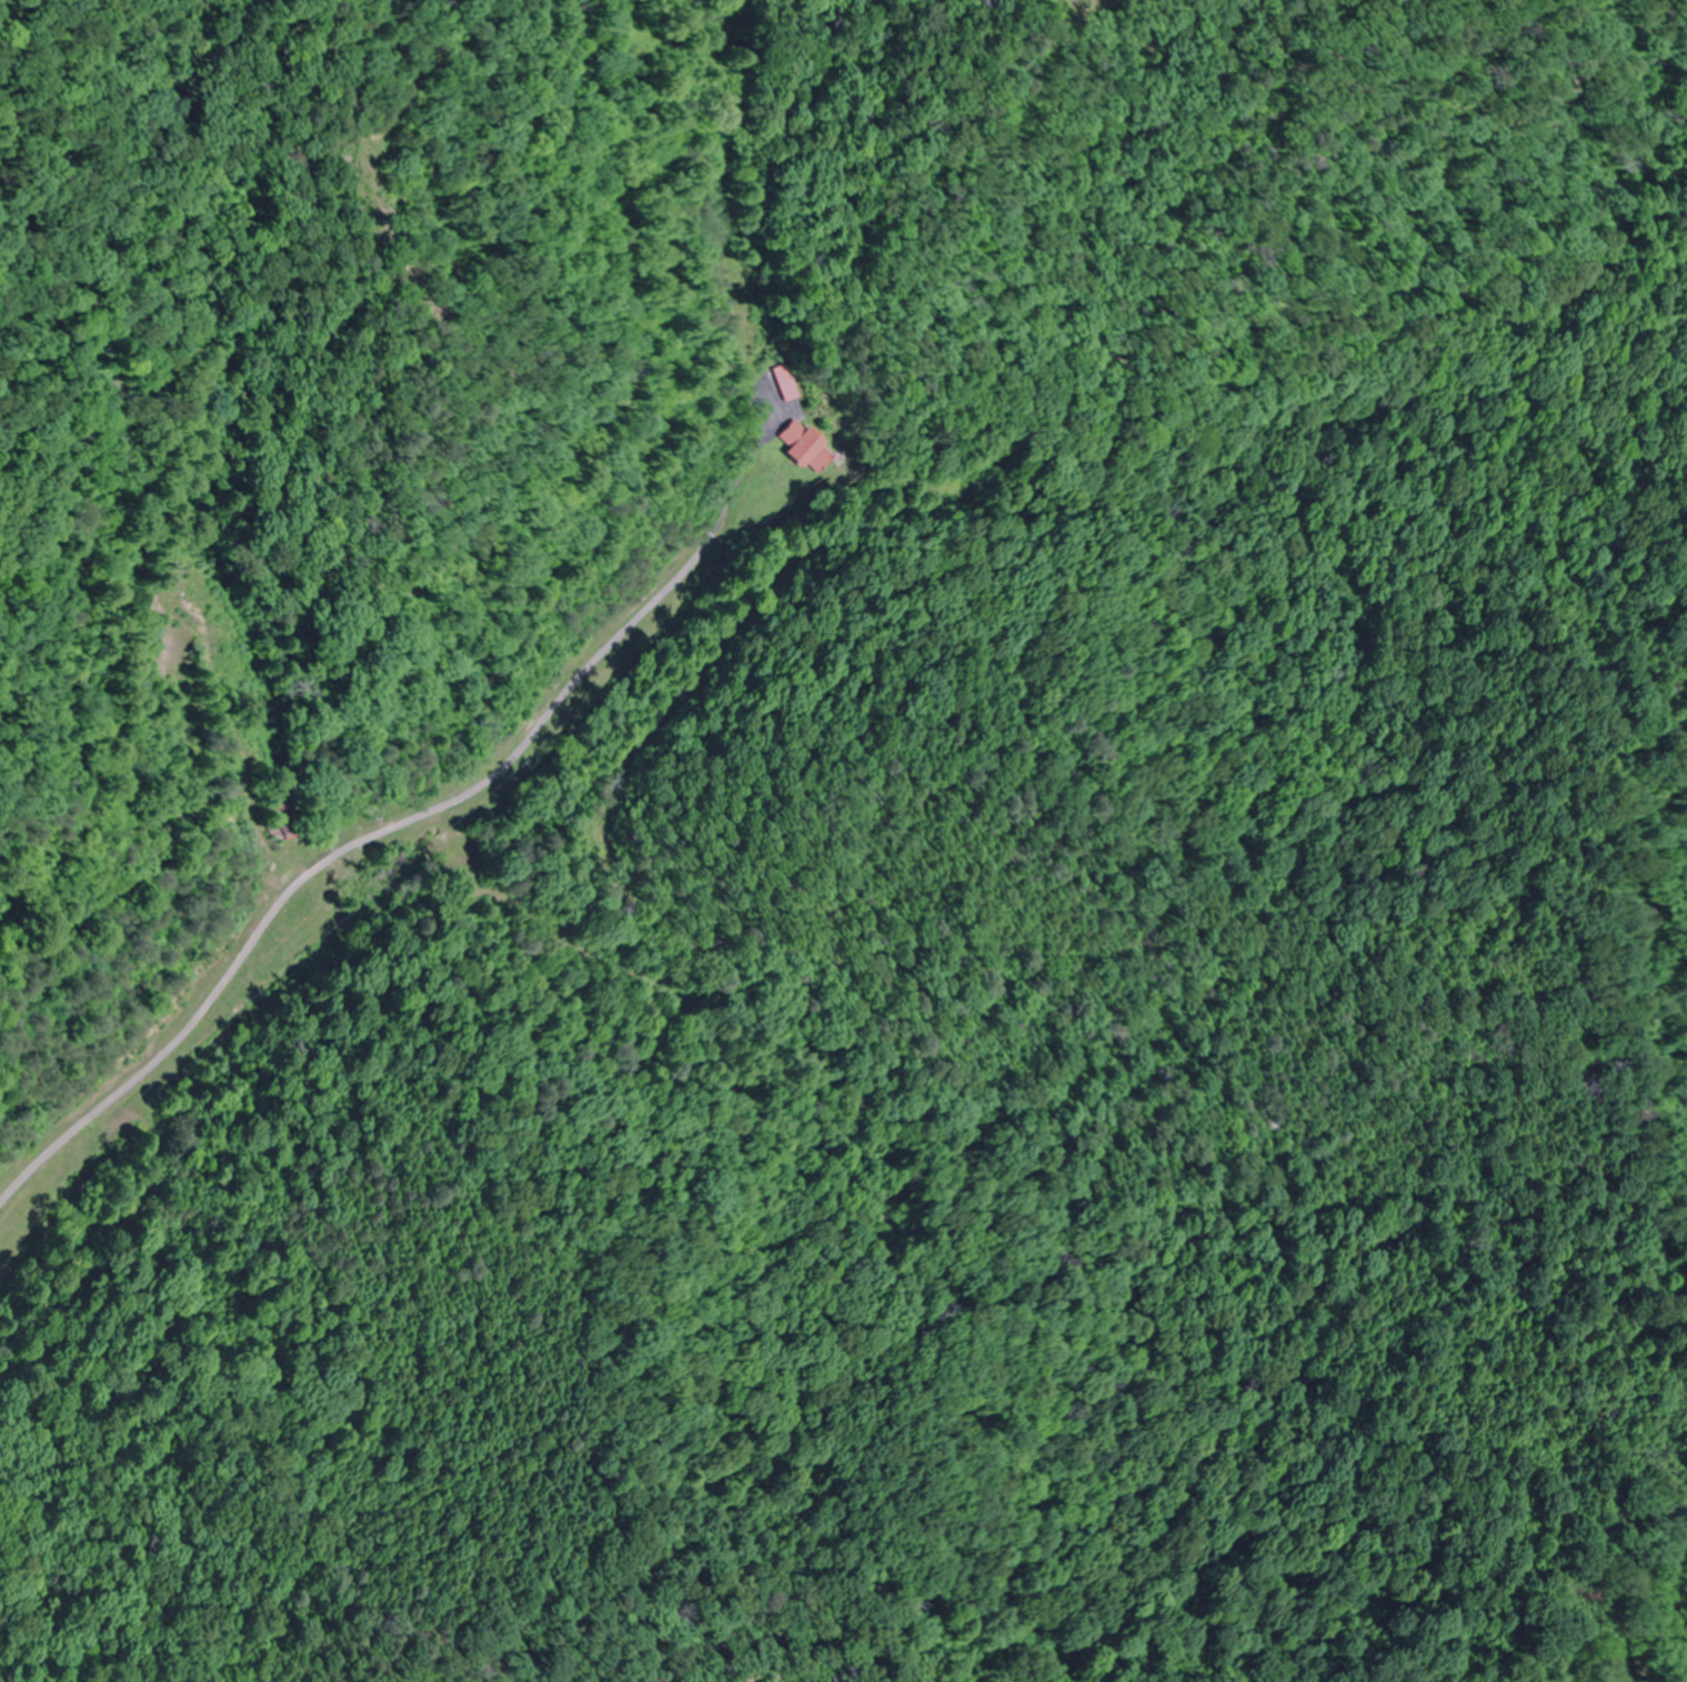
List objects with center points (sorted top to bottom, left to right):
building: (799, 448)
building: (280, 819)
road: (410, 821)
road: (1539, 1147)

